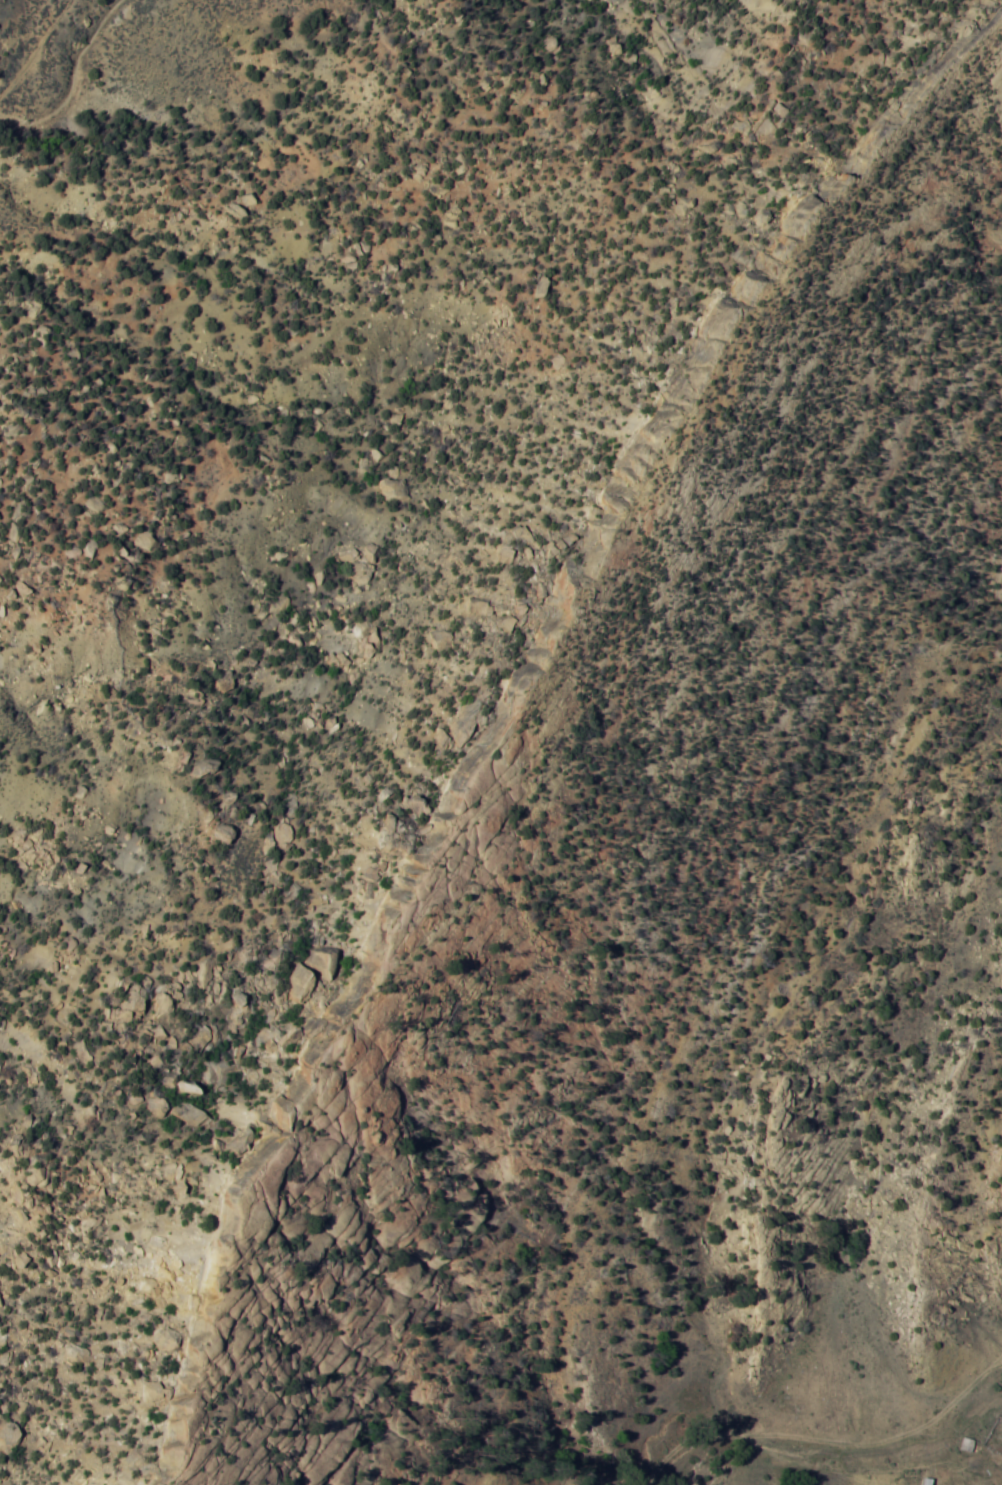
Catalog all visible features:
building: (968, 1445)
building: (928, 1481)

